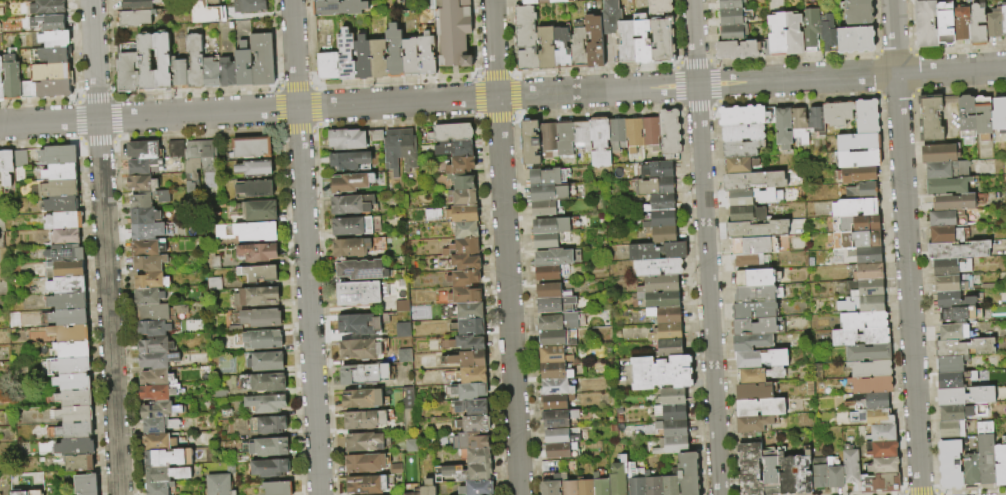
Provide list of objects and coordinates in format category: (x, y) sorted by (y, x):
building: (543, 2)
building: (732, 4)
building: (138, 5)
building: (251, 6)
building: (47, 7)
building: (339, 7)
building: (660, 7)
building: (208, 12)
building: (859, 12)
building: (610, 17)
building: (735, 17)
building: (135, 19)
building: (1004, 20)
building: (48, 23)
building: (947, 24)
building: (927, 25)
building: (995, 25)
building: (979, 26)
building: (525, 27)
building: (812, 27)
building: (963, 30)
building: (829, 31)
building: (454, 32)
building: (734, 33)
building: (794, 34)
building: (776, 36)
building: (55, 39)
building: (856, 40)
building: (595, 41)
building: (663, 41)
building: (627, 42)
building: (640, 43)
building: (579, 47)
building: (547, 49)
building: (562, 49)
building: (738, 50)
building: (395, 52)
building: (55, 54)
building: (427, 54)
building: (347, 56)
building: (411, 58)
building: (378, 59)
building: (263, 60)
building: (363, 60)
building: (527, 60)
building: (163, 61)
building: (145, 62)
building: (195, 62)
building: (243, 65)
building: (328, 66)
building: (128, 68)
building: (52, 72)
building: (228, 72)
building: (179, 73)
building: (211, 73)
building: (11, 77)
building: (1, 81)
building: (54, 88)
building: (28, 89)
road: (502, 95)
building: (839, 114)
building: (1000, 115)
building: (744, 116)
building: (868, 118)
building: (984, 118)
building: (932, 119)
building: (968, 119)
building: (817, 120)
building: (800, 126)
building: (785, 127)
building: (744, 133)
building: (451, 134)
building: (650, 134)
building: (669, 134)
building: (617, 135)
building: (632, 135)
building: (582, 136)
building: (564, 138)
building: (352, 139)
building: (547, 141)
building: (600, 142)
building: (529, 143)
building: (860, 143)
building: (250, 147)
building: (175, 148)
building: (461, 149)
building: (144, 150)
building: (399, 150)
building: (741, 150)
building: (940, 154)
building: (58, 155)
building: (20, 157)
building: (192, 159)
building: (350, 160)
building: (861, 160)
building: (208, 165)
building: (460, 165)
building: (742, 165)
building: (0, 166)
building: (7, 167)
building: (144, 167)
building: (254, 168)
building: (658, 169)
building: (948, 170)
building: (60, 172)
building: (858, 175)
building: (548, 176)
building: (755, 181)
building: (460, 182)
building: (351, 183)
building: (655, 186)
building: (947, 187)
building: (58, 188)
building: (255, 189)
building: (142, 191)
building: (868, 191)
building: (549, 192)
building: (163, 197)
building: (463, 197)
building: (744, 198)
building: (662, 202)
building: (955, 202)
building: (63, 204)
building: (352, 204)
building: (545, 208)
building: (856, 208)
building: (257, 210)
building: (463, 214)
building: (747, 214)
building: (144, 215)
building: (432, 215)
building: (663, 219)
building: (949, 219)
building: (64, 221)
building: (857, 224)
building: (556, 225)
building: (354, 226)
building: (465, 230)
building: (759, 230)
building: (144, 231)
building: (247, 231)
building: (664, 235)
building: (947, 235)
building: (66, 236)
building: (550, 240)
building: (858, 240)
building: (755, 246)
road: (105, 247)
building: (147, 247)
road: (304, 247)
building: (357, 247)
building: (463, 247)
road: (504, 247)
road: (706, 247)
road: (905, 247)
building: (656, 251)
building: (959, 251)
building: (257, 252)
building: (65, 253)
building: (865, 256)
building: (550, 258)
building: (211, 259)
building: (149, 263)
building: (465, 263)
building: (748, 264)
building: (658, 266)
building: (952, 268)
building: (65, 269)
building: (360, 270)
building: (258, 273)
building: (548, 273)
building: (866, 273)
building: (463, 278)
building: (756, 278)
building: (150, 281)
building: (214, 284)
building: (660, 284)
building: (67, 285)
building: (950, 285)
building: (866, 289)
building: (551, 291)
building: (360, 293)
building: (759, 294)
building: (256, 296)
building: (460, 296)
building: (148, 297)
building: (660, 299)
building: (949, 300)
building: (67, 301)
building: (556, 304)
building: (863, 305)
building: (463, 311)
building: (756, 311)
building: (162, 313)
building: (664, 315)
building: (959, 315)
building: (68, 317)
building: (261, 318)
building: (559, 321)
building: (865, 321)
building: (358, 324)
building: (464, 327)
building: (153, 328)
building: (759, 328)
building: (234, 329)
building: (401, 329)
building: (665, 332)
building: (955, 332)
building: (69, 333)
building: (557, 338)
building: (861, 338)
building: (263, 339)
building: (467, 343)
building: (753, 343)
building: (385, 344)
building: (155, 345)
building: (670, 348)
building: (966, 348)
building: (72, 350)
building: (359, 350)
building: (554, 354)
building: (870, 354)
building: (399, 356)
building: (465, 359)
building: (763, 359)
building: (157, 360)
building: (265, 361)
building: (951, 365)
building: (72, 366)
building: (872, 369)
building: (556, 371)
building: (660, 373)
building: (364, 375)
building: (471, 375)
building: (761, 375)
building: (156, 378)
building: (953, 380)
building: (72, 382)
building: (261, 382)
building: (557, 386)
building: (872, 386)
building: (467, 391)
building: (158, 392)
building: (755, 392)
building: (970, 396)
building: (671, 397)
building: (73, 398)
building: (362, 399)
building: (557, 401)
building: (878, 401)
building: (265, 403)
building: (470, 408)
building: (762, 408)
building: (408, 409)
building: (159, 410)
building: (669, 413)
building: (962, 413)
building: (73, 414)
building: (560, 418)
building: (881, 418)
building: (364, 420)
building: (268, 424)
building: (755, 424)
building: (159, 425)
building: (472, 425)
building: (667, 429)
building: (950, 430)
building: (74, 431)
building: (884, 434)
building: (561, 437)
building: (157, 442)
building: (364, 442)
building: (470, 442)
building: (411, 446)
building: (671, 446)
building: (74, 447)
building: (266, 447)
building: (883, 449)
building: (560, 450)
building: (987, 453)
building: (242, 457)
building: (167, 458)
building: (79, 463)
building: (365, 463)
building: (477, 464)
building: (951, 464)
building: (1001, 465)
building: (852, 466)
building: (885, 466)
building: (229, 468)
building: (269, 468)
building: (751, 468)
building: (397, 469)
building: (972, 469)
building: (452, 472)
building: (688, 473)
building: (165, 474)
building: (805, 474)
building: (618, 476)
building: (788, 476)
building: (821, 477)
building: (837, 477)
building: (635, 480)
building: (772, 482)
building: (670, 483)
building: (86, 484)
building: (881, 484)
building: (218, 485)
building: (368, 485)
building: (600, 485)
building: (552, 486)
building: (568, 486)
building: (652, 486)
building: (584, 487)
building: (159, 488)
building: (277, 488)
building: (427, 488)
building: (475, 488)
building: (36, 492)
building: (19, 493)
building: (411, 494)

